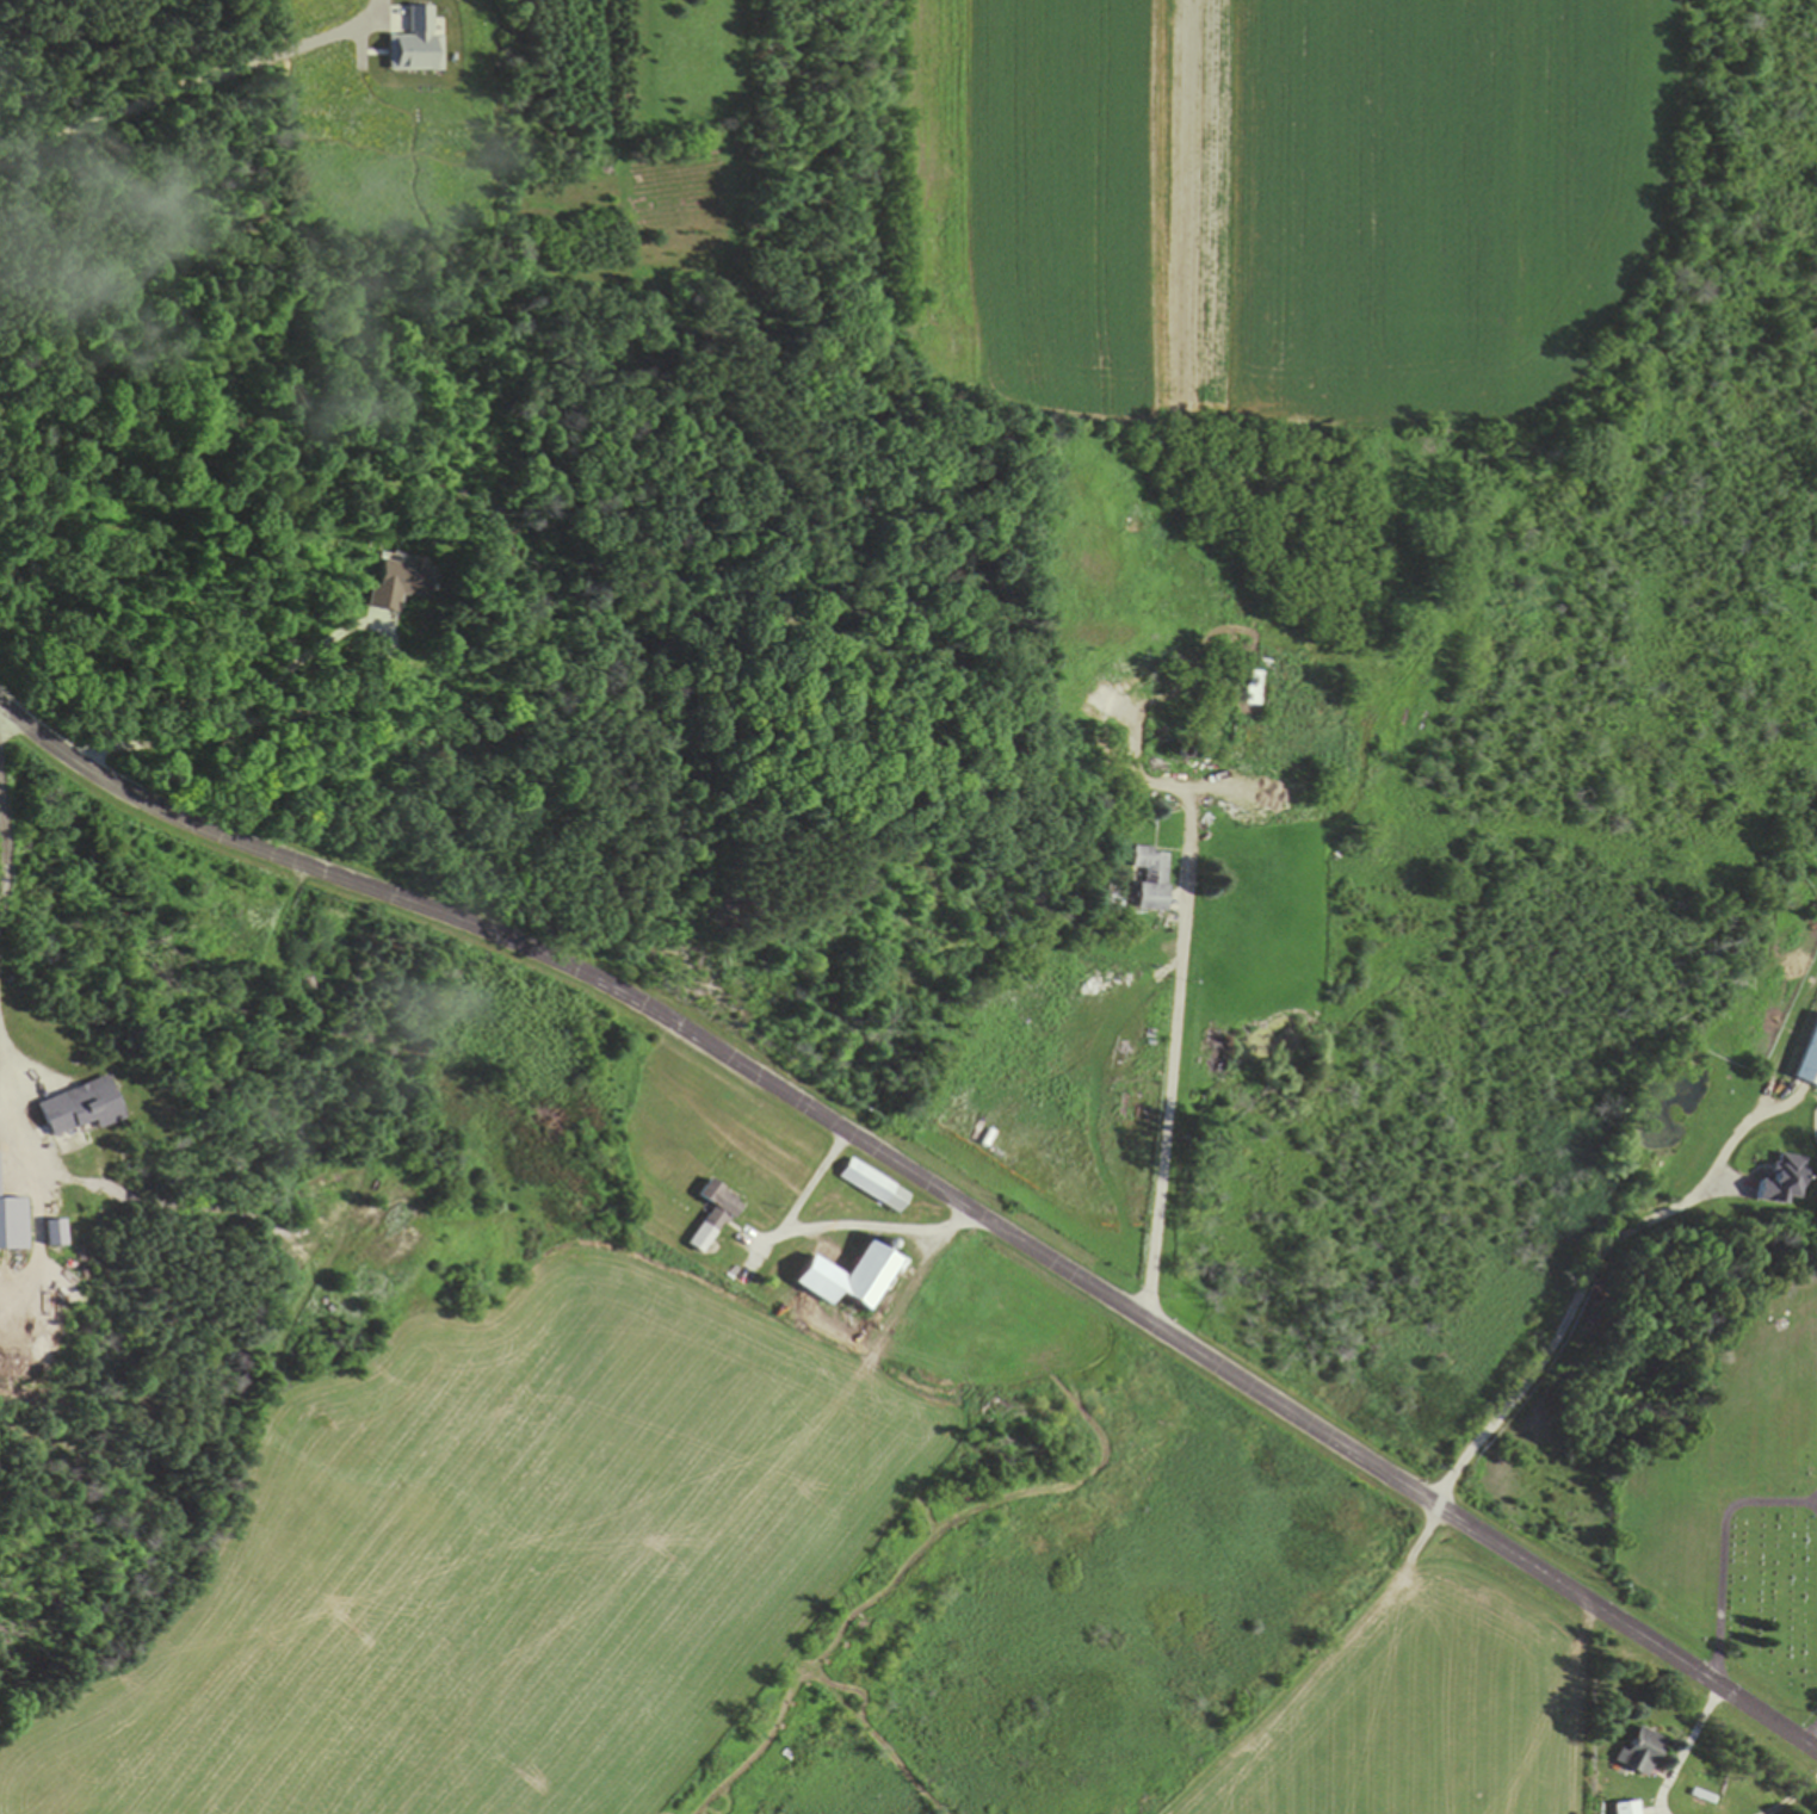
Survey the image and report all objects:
building: (391, 583)
building: (1253, 688)
road: (339, 718)
building: (1219, 784)
road: (579, 826)
building: (1149, 880)
road: (759, 915)
road: (10, 1076)
road: (1114, 1094)
building: (68, 1109)
building: (1784, 1180)
road: (929, 1183)
building: (870, 1187)
building: (710, 1218)
building: (8, 1225)
building: (45, 1234)
building: (843, 1280)
building: (1638, 1752)
building: (1626, 1808)

